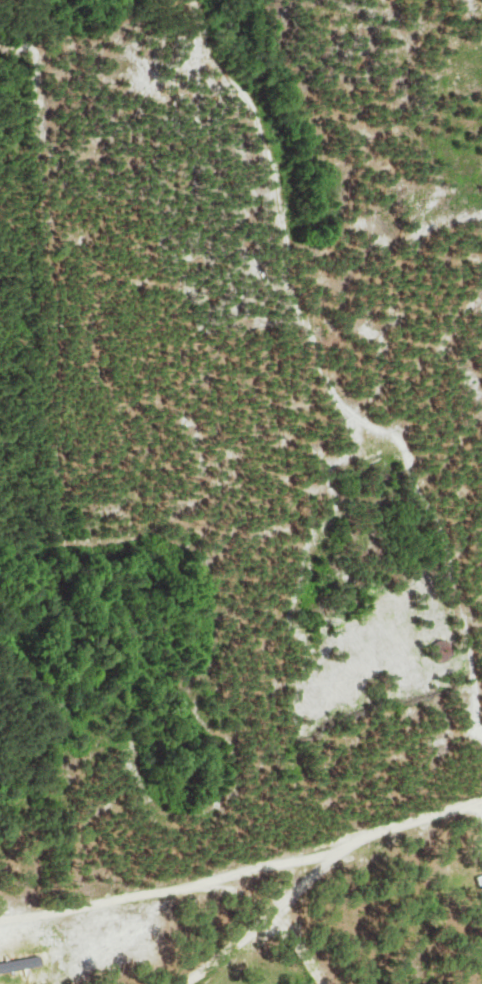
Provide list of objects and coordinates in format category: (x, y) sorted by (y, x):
road: (355, 841)
building: (476, 878)
road: (257, 928)

